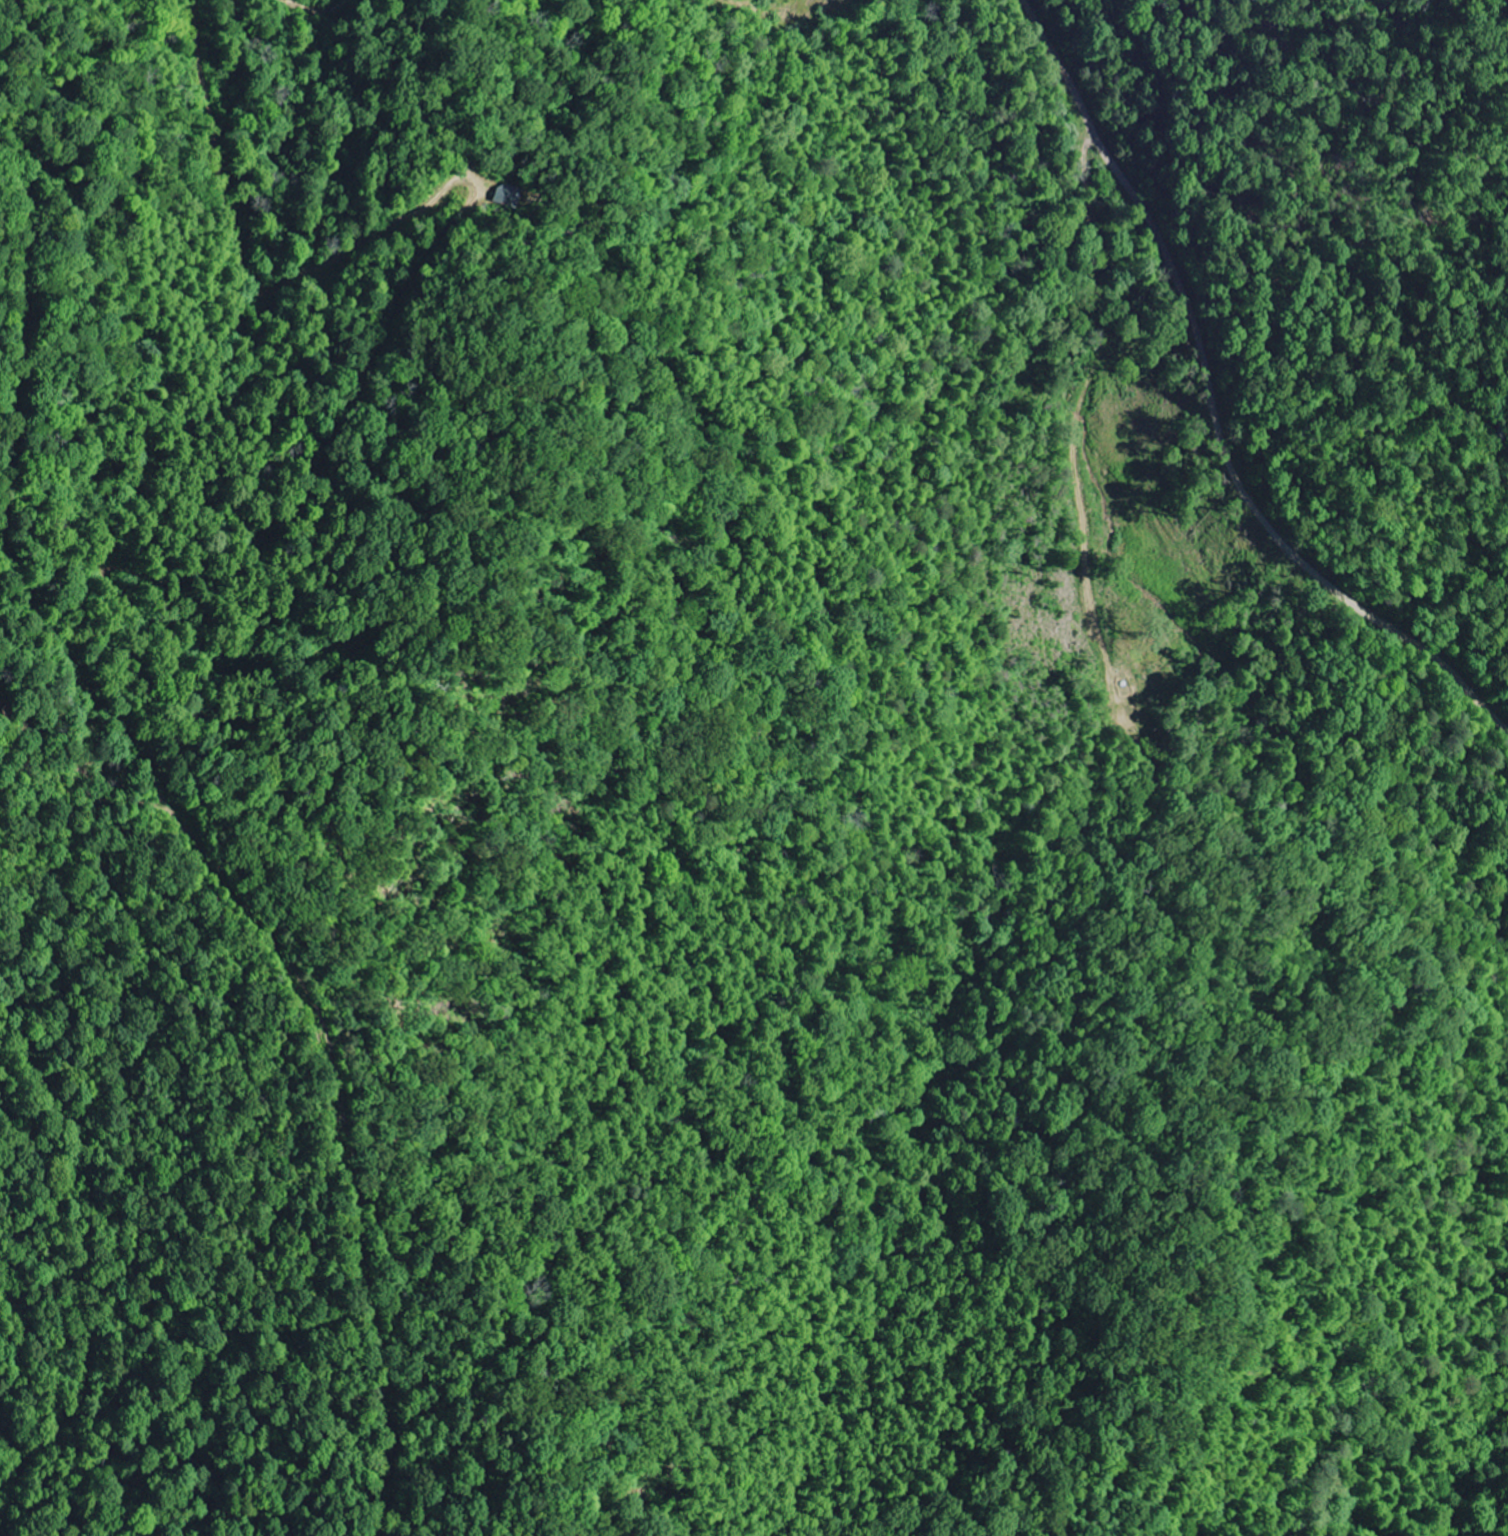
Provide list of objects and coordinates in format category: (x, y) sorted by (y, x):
road: (1218, 401)

